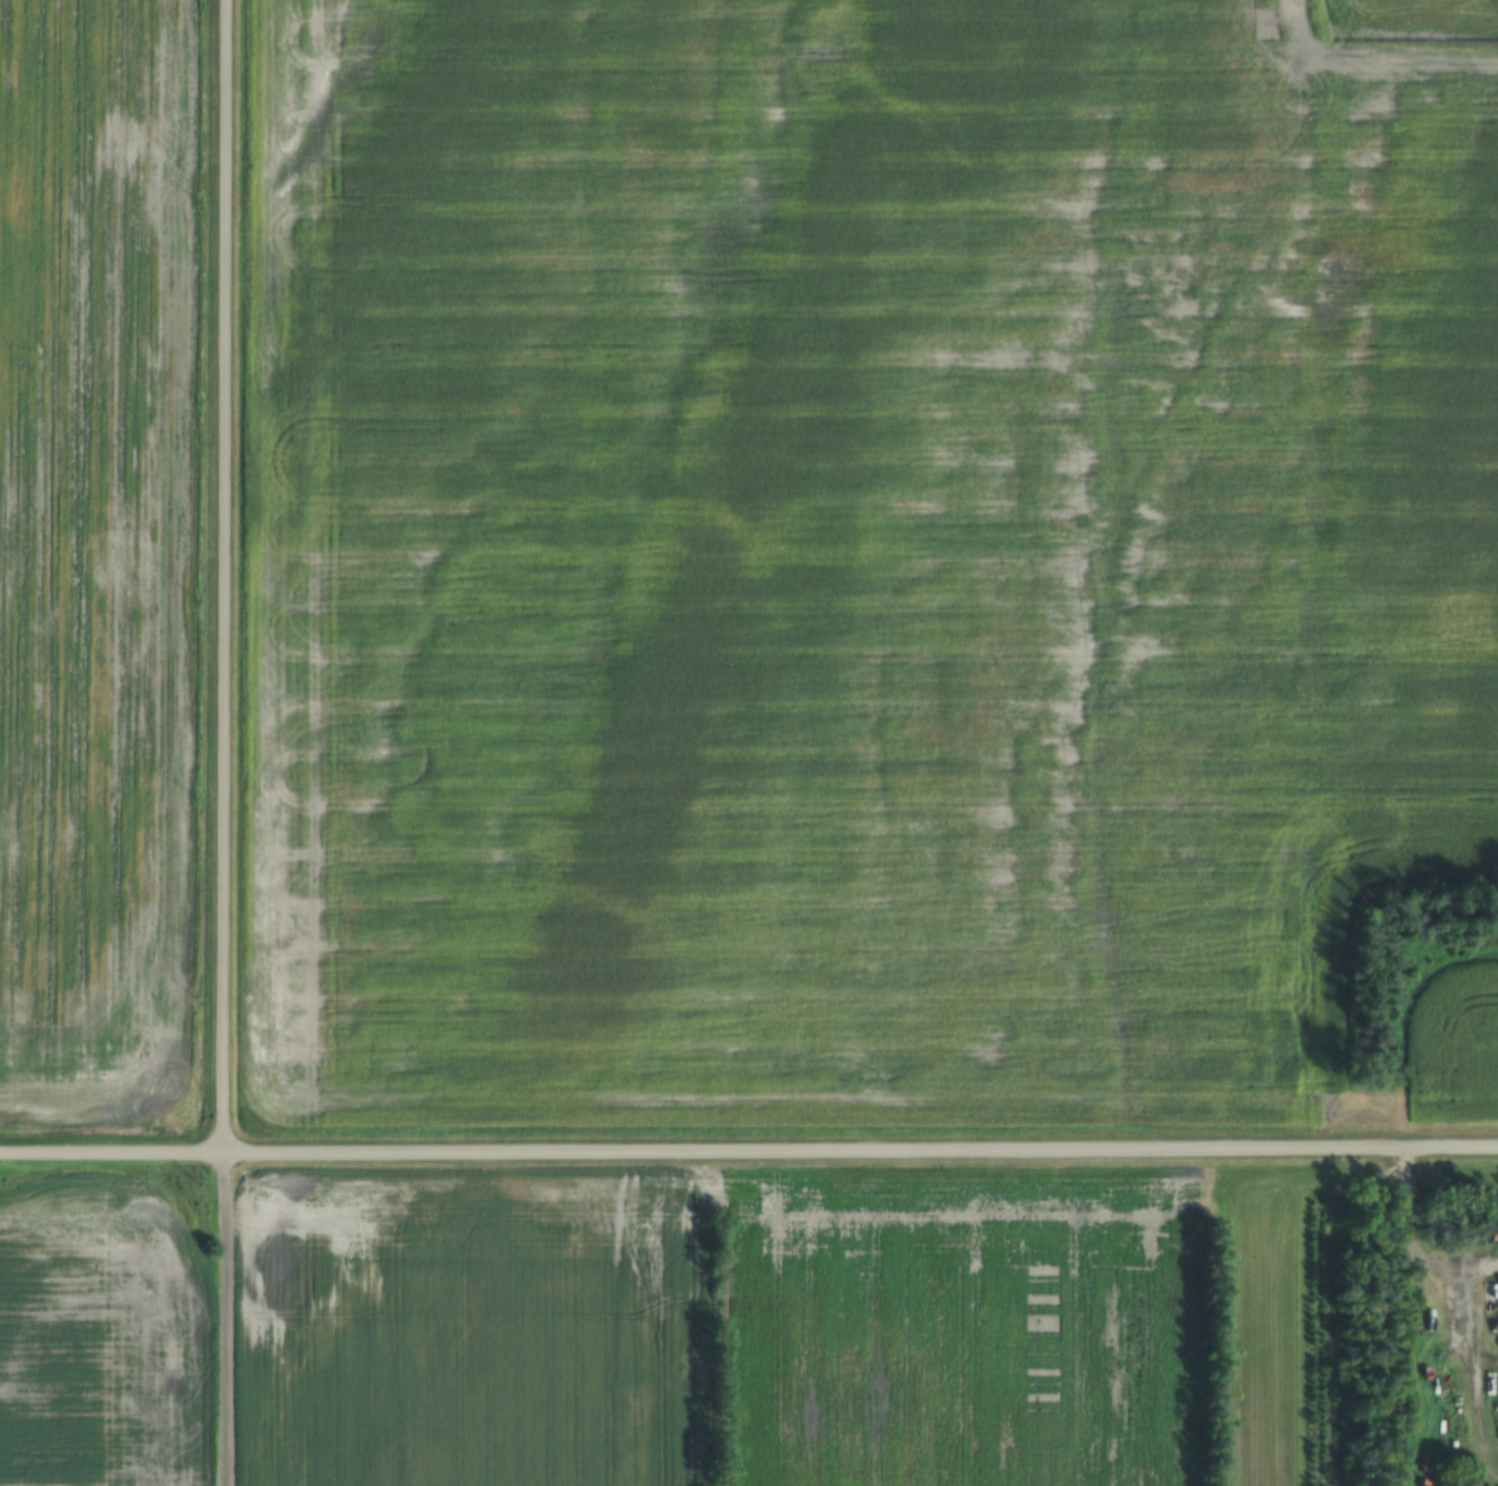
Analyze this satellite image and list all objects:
road: (227, 576)
road: (749, 1149)
road: (1418, 1243)
road: (226, 1319)
road: (1426, 1395)

